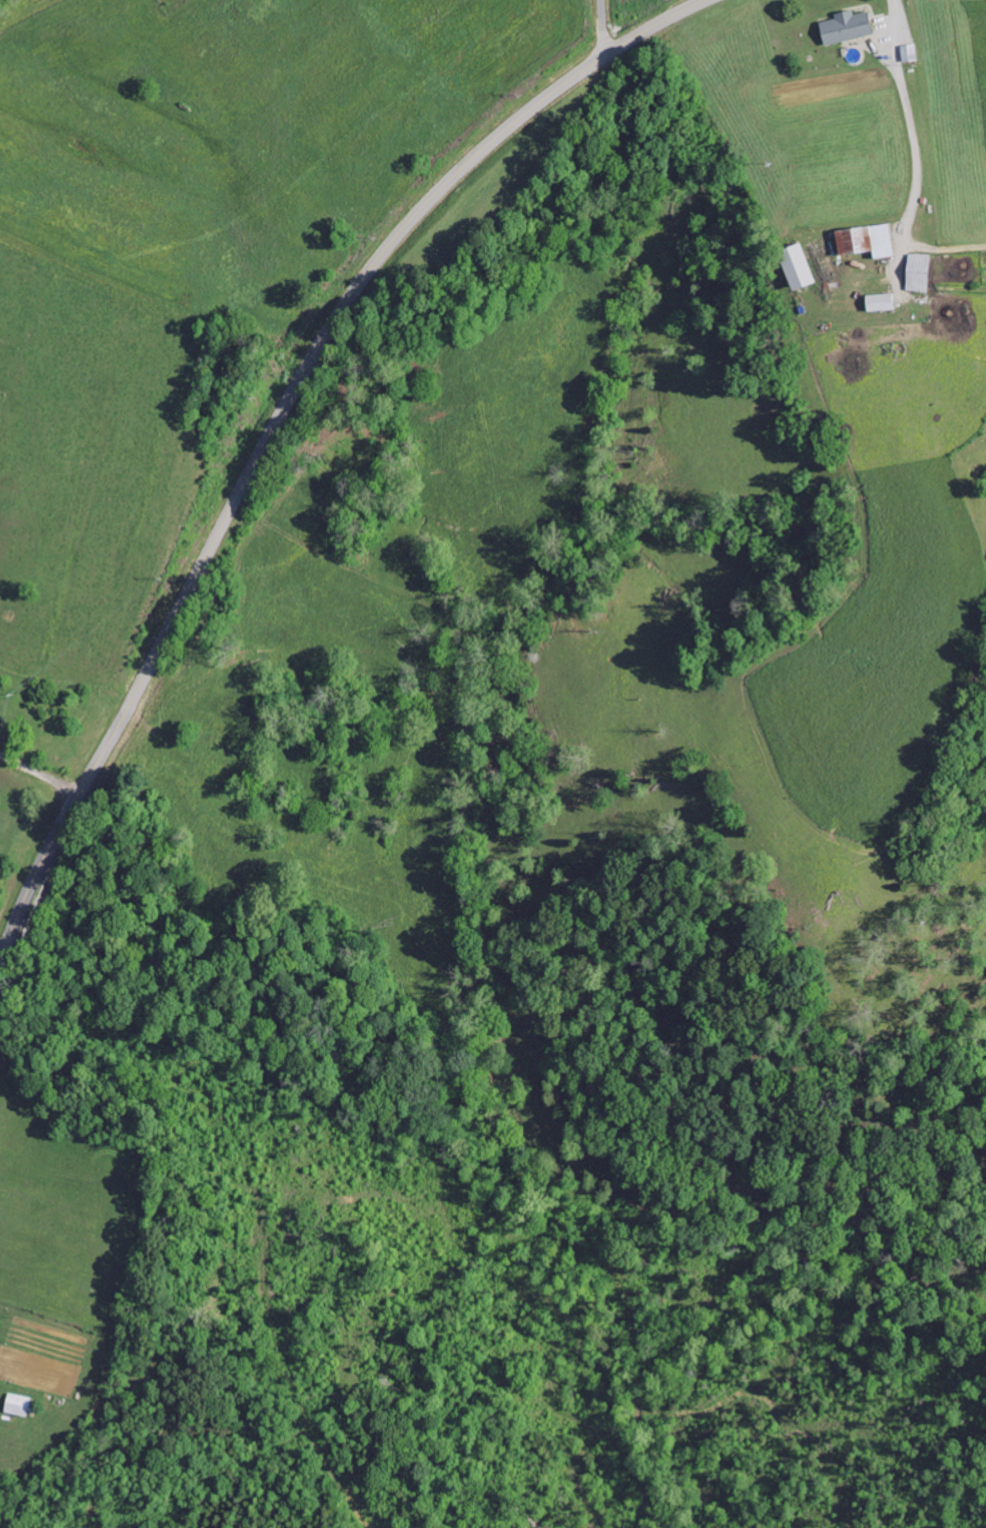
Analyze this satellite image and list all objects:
building: (847, 27)
road: (602, 29)
building: (867, 240)
building: (798, 266)
building: (881, 302)
road: (279, 419)
road: (36, 768)
building: (18, 1404)

